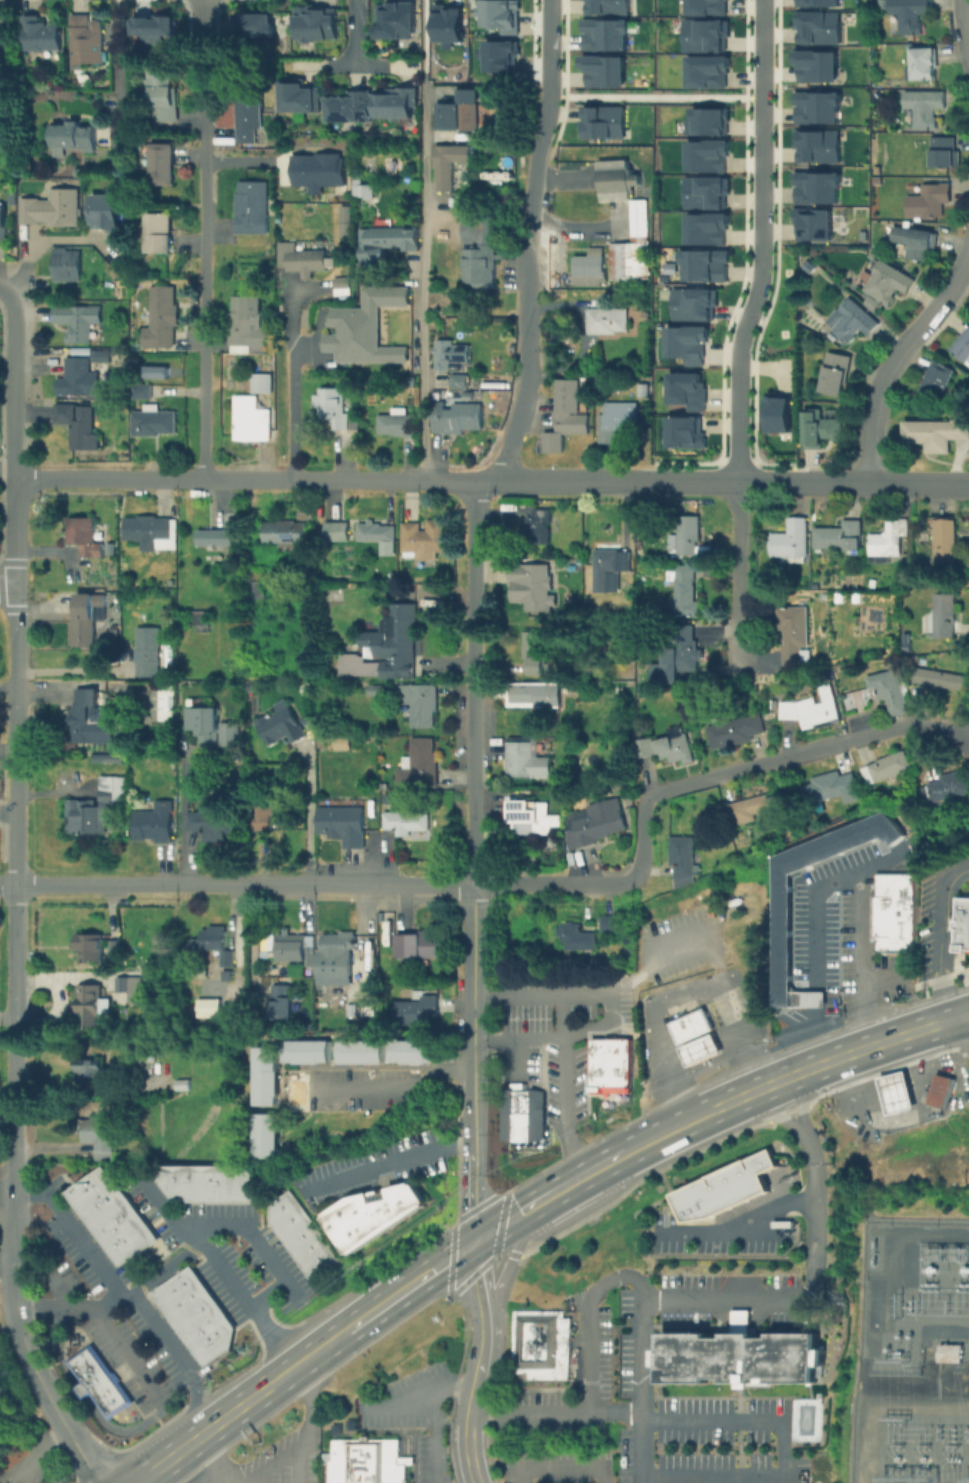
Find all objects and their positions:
building: (818, 1)
building: (610, 6)
building: (709, 6)
building: (500, 14)
building: (911, 14)
road: (204, 19)
road: (964, 21)
building: (397, 23)
building: (446, 23)
building: (256, 24)
building: (318, 25)
building: (820, 25)
building: (153, 29)
building: (706, 32)
road: (358, 33)
building: (606, 33)
building: (41, 35)
building: (86, 41)
road: (553, 42)
road: (423, 43)
street lamp: (560, 52)
building: (499, 53)
building: (817, 64)
road: (212, 65)
building: (925, 65)
building: (709, 68)
road: (117, 69)
building: (605, 69)
street lamp: (748, 90)
building: (167, 96)
road: (656, 97)
building: (300, 98)
building: (816, 106)
building: (398, 107)
building: (350, 108)
building: (926, 108)
building: (460, 113)
road: (547, 113)
building: (251, 117)
building: (706, 120)
building: (603, 121)
building: (74, 137)
street lamp: (549, 141)
building: (818, 144)
building: (708, 153)
building: (945, 154)
building: (164, 165)
building: (450, 165)
building: (318, 168)
road: (565, 181)
building: (616, 181)
building: (815, 186)
building: (364, 191)
building: (704, 191)
building: (14, 198)
building: (928, 201)
building: (253, 209)
building: (54, 210)
street lamp: (748, 210)
building: (107, 214)
building: (810, 222)
building: (2, 223)
building: (347, 224)
building: (707, 226)
building: (159, 229)
road: (580, 229)
road: (763, 242)
building: (913, 242)
road: (38, 243)
building: (386, 245)
building: (635, 250)
building: (483, 253)
building: (301, 257)
building: (704, 262)
building: (69, 266)
building: (590, 269)
building: (663, 277)
road: (424, 282)
building: (560, 282)
building: (887, 282)
road: (204, 286)
road: (1, 291)
building: (692, 300)
park: (777, 306)
road: (530, 312)
building: (163, 319)
building: (79, 320)
building: (609, 322)
building: (851, 322)
building: (249, 324)
street lamp: (732, 324)
building: (365, 327)
building: (687, 341)
building: (963, 350)
building: (445, 356)
building: (104, 358)
road: (895, 358)
building: (394, 373)
building: (836, 375)
building: (80, 380)
building: (939, 381)
building: (263, 384)
building: (460, 387)
road: (291, 388)
building: (687, 389)
building: (646, 391)
building: (144, 392)
building: (333, 403)
building: (778, 411)
building: (570, 414)
building: (457, 418)
building: (251, 421)
building: (618, 421)
building: (155, 422)
building: (396, 423)
building: (80, 426)
building: (820, 429)
building: (686, 432)
building: (937, 434)
road: (11, 435)
street lamp: (725, 450)
road: (6, 468)
street lamp: (766, 468)
road: (331, 479)
road: (723, 480)
road: (882, 481)
building: (540, 528)
building: (338, 532)
building: (151, 533)
building: (86, 536)
building: (288, 537)
building: (379, 537)
building: (687, 537)
building: (217, 539)
building: (840, 539)
building: (427, 541)
building: (946, 541)
building: (792, 542)
building: (886, 544)
building: (108, 547)
road: (737, 568)
building: (606, 569)
building: (391, 575)
road: (7, 581)
building: (169, 582)
building: (258, 589)
building: (538, 589)
building: (685, 591)
building: (164, 612)
building: (946, 617)
building: (85, 621)
building: (201, 622)
building: (112, 633)
building: (797, 634)
building: (905, 641)
building: (386, 649)
building: (689, 651)
building: (536, 652)
building: (149, 653)
road: (71, 667)
building: (943, 680)
road: (473, 682)
building: (250, 686)
building: (374, 690)
building: (893, 694)
building: (534, 695)
building: (164, 704)
building: (421, 705)
building: (813, 709)
building: (93, 719)
building: (281, 724)
building: (211, 725)
building: (745, 729)
building: (343, 745)
building: (644, 749)
building: (677, 749)
building: (110, 760)
building: (527, 762)
building: (420, 767)
building: (886, 768)
road: (686, 781)
building: (944, 788)
building: (832, 789)
building: (113, 791)
building: (390, 798)
building: (757, 807)
building: (84, 817)
building: (262, 817)
building: (534, 817)
road: (308, 818)
road: (182, 819)
building: (155, 824)
building: (216, 824)
building: (408, 824)
building: (344, 826)
building: (593, 827)
building: (683, 855)
road: (14, 882)
road: (7, 883)
road: (243, 884)
road: (813, 892)
building: (891, 912)
building: (609, 924)
building: (960, 924)
building: (781, 931)
building: (575, 938)
road: (939, 939)
building: (214, 940)
building: (422, 945)
building: (342, 947)
building: (116, 948)
building: (91, 949)
building: (297, 949)
building: (228, 960)
road: (859, 961)
road: (881, 978)
building: (132, 989)
road: (964, 992)
road: (813, 998)
building: (330, 1000)
building: (283, 1003)
road: (681, 1003)
building: (91, 1005)
building: (207, 1006)
building: (351, 1008)
road: (609, 1010)
building: (418, 1012)
road: (967, 1014)
road: (472, 1019)
road: (967, 1021)
building: (689, 1025)
road: (812, 1037)
road: (884, 1044)
building: (700, 1049)
gas station: (700, 1049)
building: (303, 1050)
building: (414, 1050)
building: (359, 1051)
road: (513, 1053)
building: (608, 1065)
building: (90, 1073)
building: (264, 1076)
road: (770, 1084)
building: (184, 1085)
road: (397, 1086)
road: (562, 1087)
building: (939, 1090)
building: (896, 1092)
gas station: (896, 1092)
road: (799, 1102)
road: (718, 1108)
building: (521, 1112)
road: (770, 1112)
building: (266, 1134)
road: (660, 1134)
building: (98, 1137)
road: (392, 1164)
road: (578, 1179)
building: (172, 1181)
building: (105, 1182)
road: (6, 1183)
building: (221, 1183)
building: (249, 1183)
building: (195, 1184)
building: (724, 1186)
building: (86, 1196)
road: (471, 1198)
building: (124, 1209)
building: (286, 1212)
building: (377, 1216)
road: (504, 1223)
road: (739, 1225)
road: (70, 1229)
building: (113, 1233)
building: (300, 1233)
building: (142, 1234)
traffic signals: (474, 1242)
building: (317, 1257)
road: (170, 1262)
road: (5, 1264)
road: (508, 1265)
building: (185, 1277)
road: (477, 1284)
road: (55, 1286)
road: (411, 1286)
building: (167, 1290)
road: (640, 1291)
road: (801, 1291)
road: (267, 1292)
building: (198, 1294)
building: (175, 1302)
road: (715, 1309)
road: (761, 1309)
building: (184, 1313)
road: (255, 1313)
road: (738, 1318)
building: (219, 1323)
building: (192, 1324)
road: (22, 1342)
building: (542, 1343)
building: (207, 1344)
road: (55, 1347)
building: (949, 1352)
building: (740, 1354)
power substation: (912, 1355)
road: (135, 1368)
road: (476, 1371)
building: (97, 1381)
road: (194, 1381)
road: (82, 1389)
road: (420, 1389)
road: (241, 1407)
road: (554, 1413)
road: (125, 1430)
road: (434, 1433)
road: (467, 1449)
road: (782, 1449)
road: (40, 1457)
building: (365, 1461)
road: (269, 1463)
road: (559, 1468)
road: (205, 1473)

